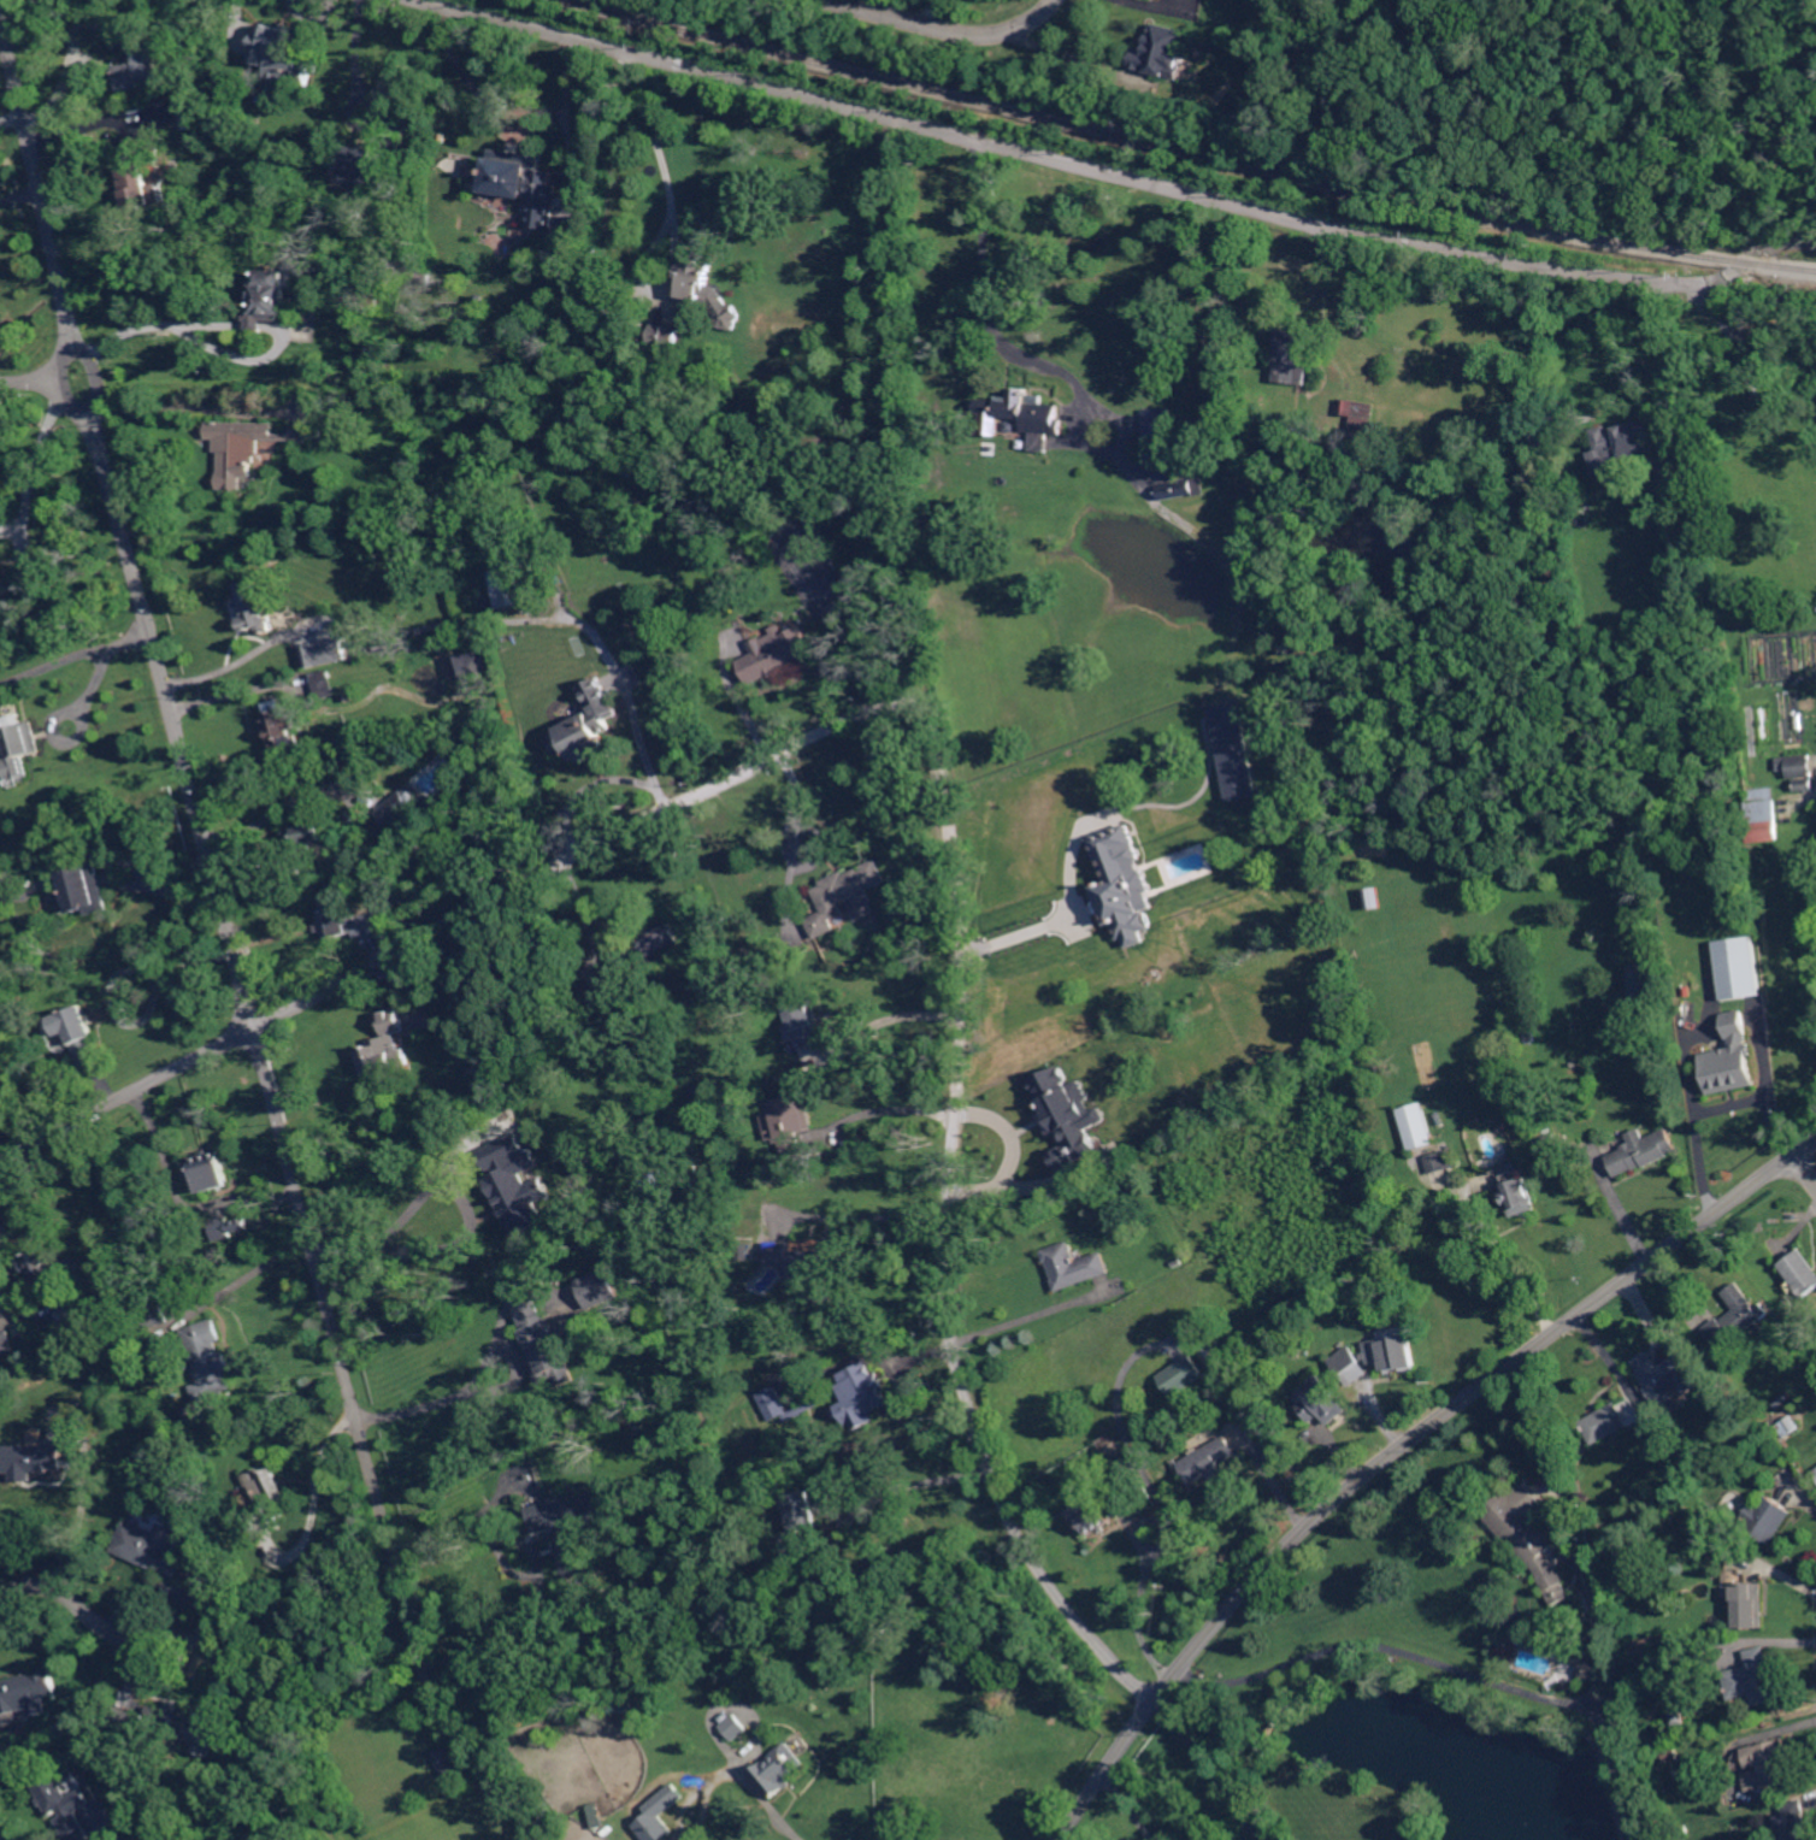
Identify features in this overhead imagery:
road: (948, 28)
building: (120, 47)
building: (1162, 52)
building: (293, 61)
building: (138, 70)
road: (355, 71)
park: (1580, 95)
road: (503, 110)
road: (12, 117)
railway: (1181, 151)
road: (1083, 164)
building: (359, 166)
building: (140, 176)
building: (524, 184)
road: (22, 195)
road: (667, 199)
road: (1786, 242)
building: (344, 278)
building: (707, 289)
road: (987, 290)
building: (480, 295)
building: (271, 297)
building: (368, 302)
road: (182, 326)
building: (665, 337)
building: (709, 346)
road: (1670, 356)
building: (1293, 359)
road: (42, 381)
building: (648, 381)
road: (176, 407)
building: (477, 412)
building: (1021, 415)
building: (1358, 417)
building: (1160, 434)
building: (1623, 437)
road: (41, 448)
building: (247, 448)
building: (629, 470)
building: (1682, 485)
building: (1183, 489)
building: (1343, 491)
building: (278, 552)
building: (513, 580)
building: (255, 607)
building: (1797, 612)
building: (779, 654)
building: (323, 659)
road: (237, 661)
building: (476, 662)
road: (101, 666)
building: (323, 683)
building: (348, 696)
building: (590, 726)
building: (283, 729)
building: (17, 750)
building: (1237, 750)
building: (1797, 766)
road: (595, 782)
building: (1805, 785)
building: (401, 808)
road: (283, 809)
building: (1763, 813)
building: (307, 836)
road: (796, 838)
road: (208, 850)
road: (114, 878)
building: (1124, 884)
road: (183, 885)
building: (86, 890)
building: (847, 897)
building: (1373, 898)
building: (346, 918)
road: (452, 918)
road: (1025, 931)
building: (644, 944)
building: (611, 959)
building: (1737, 967)
building: (637, 968)
building: (596, 990)
building: (1644, 995)
road: (903, 1015)
building: (600, 1016)
building: (803, 1022)
building: (78, 1034)
building: (384, 1044)
building: (1730, 1058)
building: (1068, 1110)
road: (971, 1114)
building: (442, 1117)
building: (789, 1120)
building: (612, 1121)
building: (1417, 1127)
building: (1505, 1128)
road: (1697, 1145)
building: (1547, 1146)
building: (1641, 1152)
building: (1440, 1162)
road: (1805, 1167)
building: (691, 1168)
building: (207, 1172)
building: (513, 1185)
building: (1517, 1195)
road: (1621, 1208)
road: (873, 1216)
road: (947, 1226)
building: (228, 1227)
road: (379, 1249)
building: (744, 1250)
road: (1509, 1258)
building: (1179, 1260)
building: (1075, 1264)
building: (807, 1267)
building: (1800, 1273)
road: (250, 1275)
building: (48, 1279)
building: (600, 1288)
building: (0, 1304)
building: (157, 1314)
road: (1034, 1314)
building: (1734, 1319)
building: (5, 1340)
building: (543, 1346)
building: (1395, 1350)
building: (1210, 1354)
building: (210, 1357)
building: (1350, 1367)
building: (1183, 1376)
building: (1663, 1379)
building: (861, 1397)
building: (1785, 1398)
building: (771, 1400)
building: (1322, 1402)
road: (432, 1404)
building: (1257, 1416)
building: (1611, 1421)
building: (1787, 1427)
building: (1268, 1435)
building: (1763, 1441)
road: (1401, 1449)
building: (34, 1458)
building: (1699, 1459)
building: (1208, 1462)
building: (1815, 1468)
building: (1815, 1473)
road: (921, 1482)
building: (665, 1485)
road: (316, 1492)
building: (266, 1499)
road: (84, 1508)
building: (803, 1510)
building: (1099, 1514)
building: (1767, 1520)
building: (576, 1527)
building: (1533, 1537)
building: (1626, 1537)
building: (678, 1540)
building: (152, 1547)
building: (786, 1549)
road: (542, 1570)
building: (1616, 1571)
building: (1746, 1602)
building: (264, 1614)
road: (131, 1629)
building: (1590, 1669)
building: (1753, 1677)
building: (28, 1693)
road: (1558, 1699)
building: (632, 1703)
building: (1681, 1717)
building: (124, 1718)
building: (737, 1726)
building: (185, 1727)
building: (1669, 1756)
building: (449, 1762)
building: (1769, 1763)
building: (782, 1769)
road: (1205, 1770)
road: (742, 1779)
building: (661, 1788)
building: (65, 1800)
road: (1128, 1805)
building: (661, 1815)
building: (599, 1816)
building: (1770, 1817)
building: (1797, 1821)
building: (1684, 1832)
road: (0, 1838)

